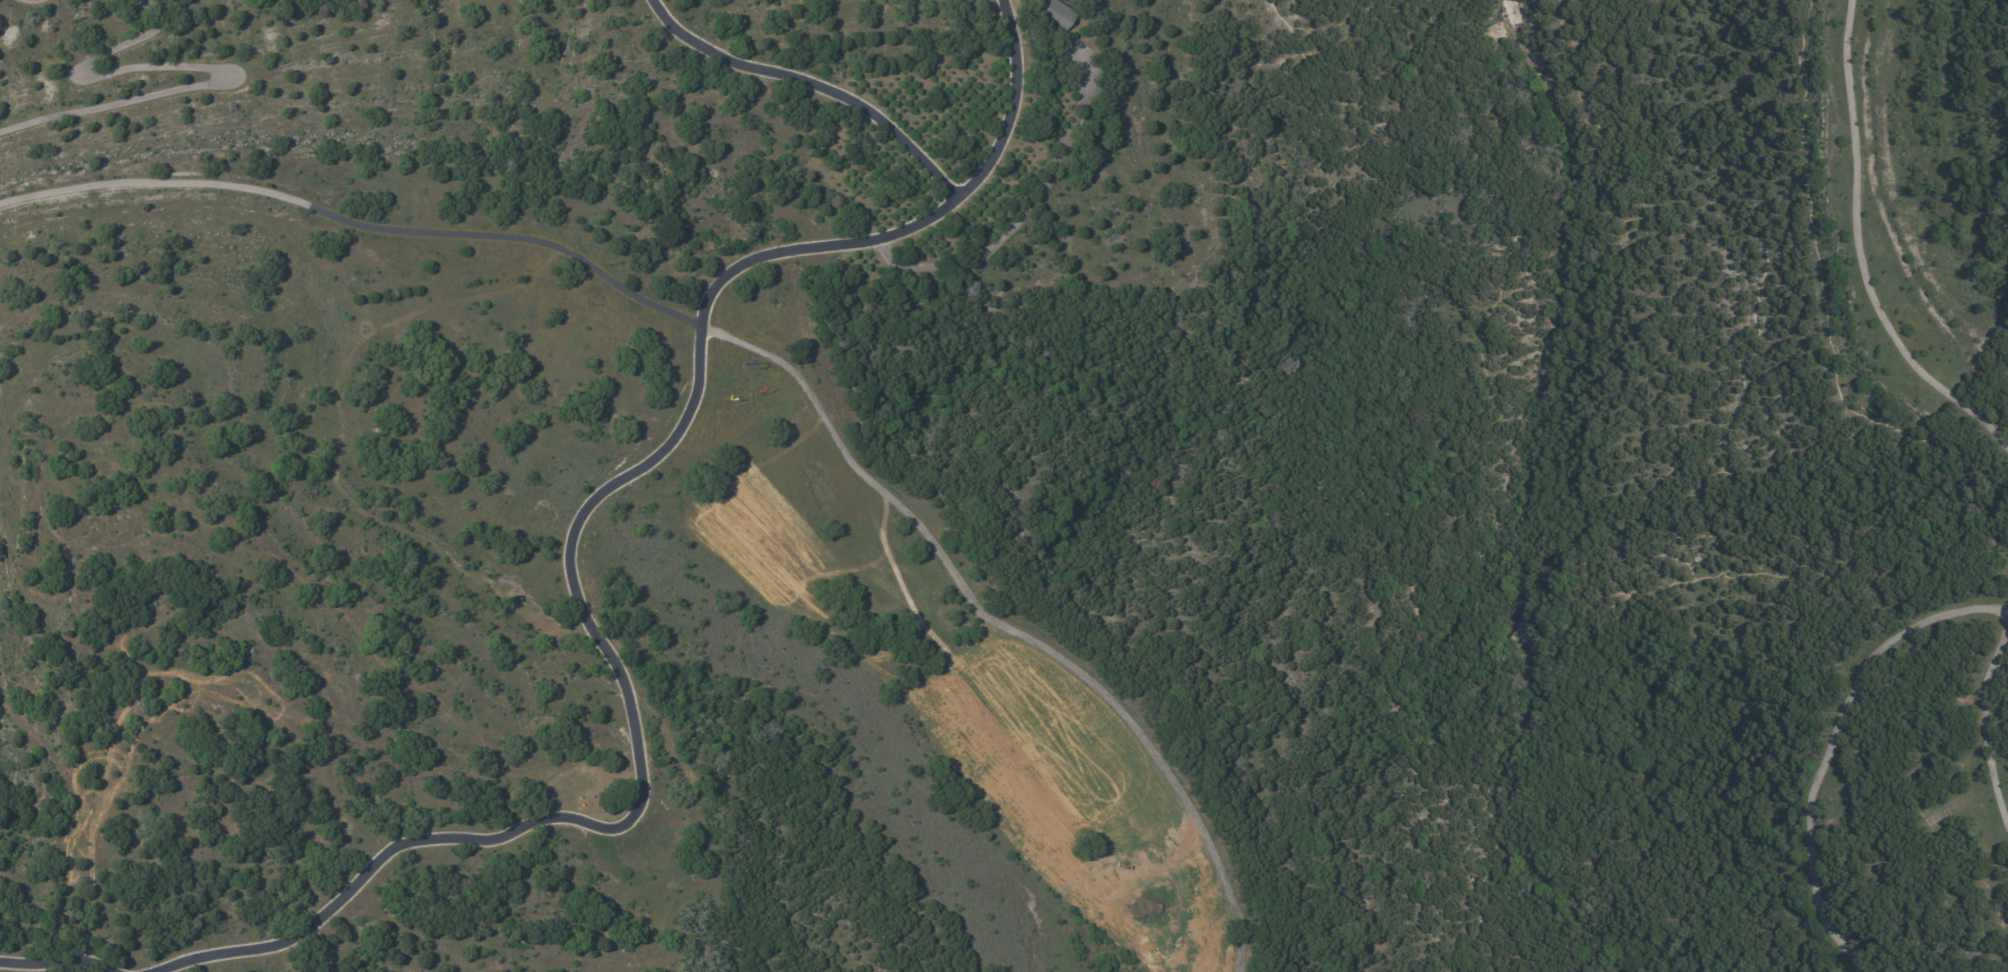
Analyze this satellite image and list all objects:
road: (1508, 8)
building: (1056, 16)
road: (197, 65)
road: (812, 85)
road: (984, 168)
road: (1024, 210)
road: (362, 227)
road: (1578, 297)
road: (1492, 379)
road: (1531, 383)
park: (1459, 439)
road: (638, 723)
road: (67, 958)

